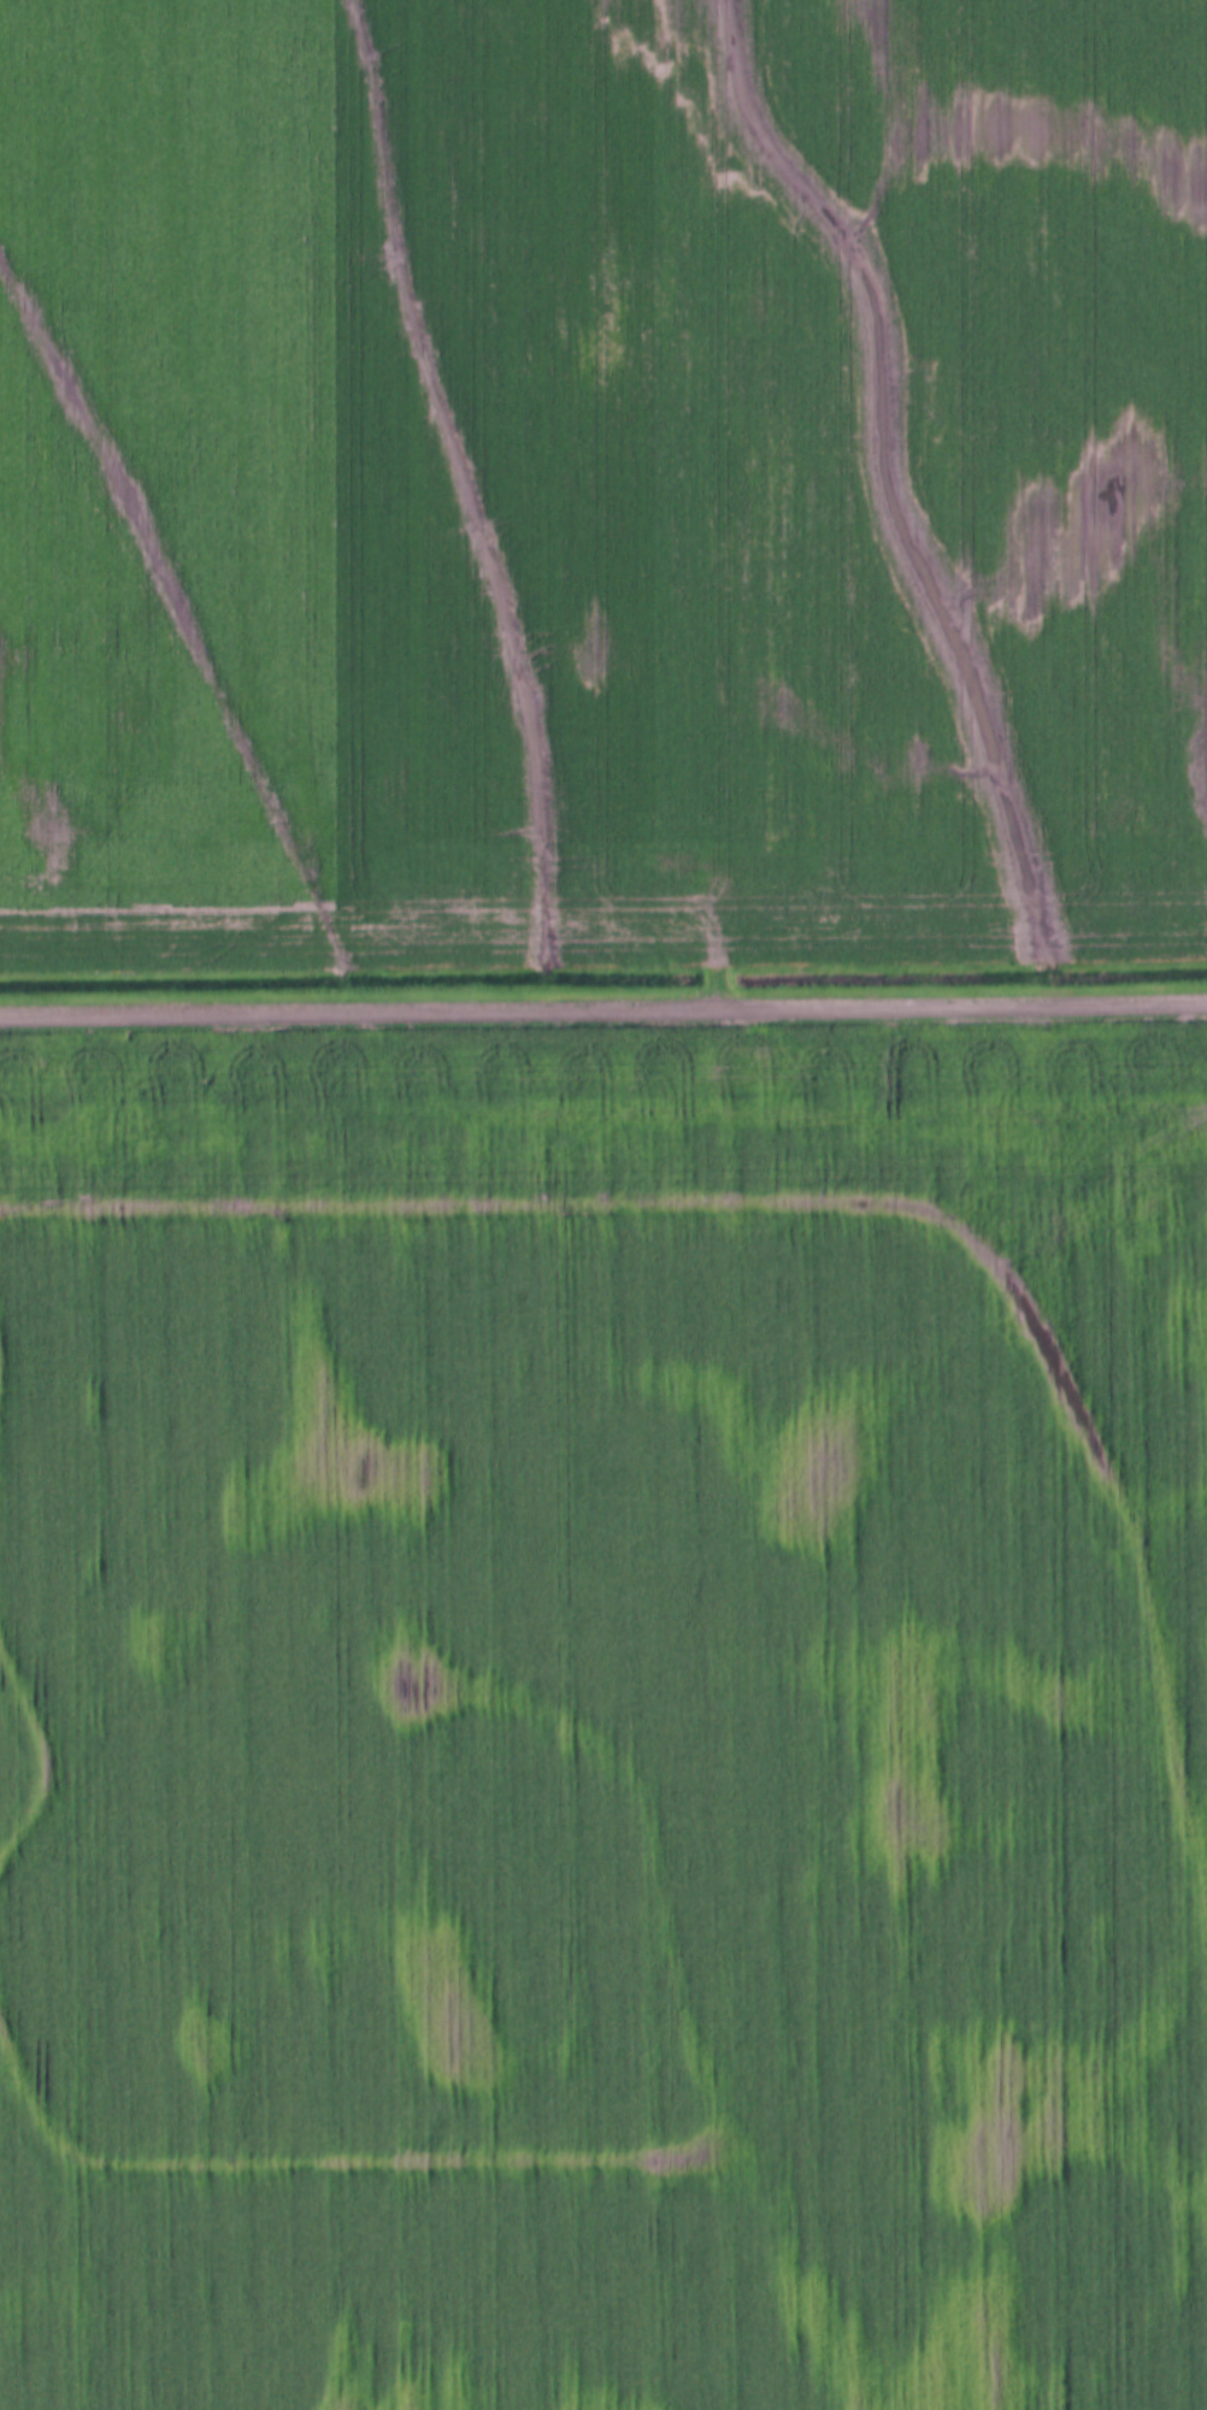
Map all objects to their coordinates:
road: (603, 1012)

